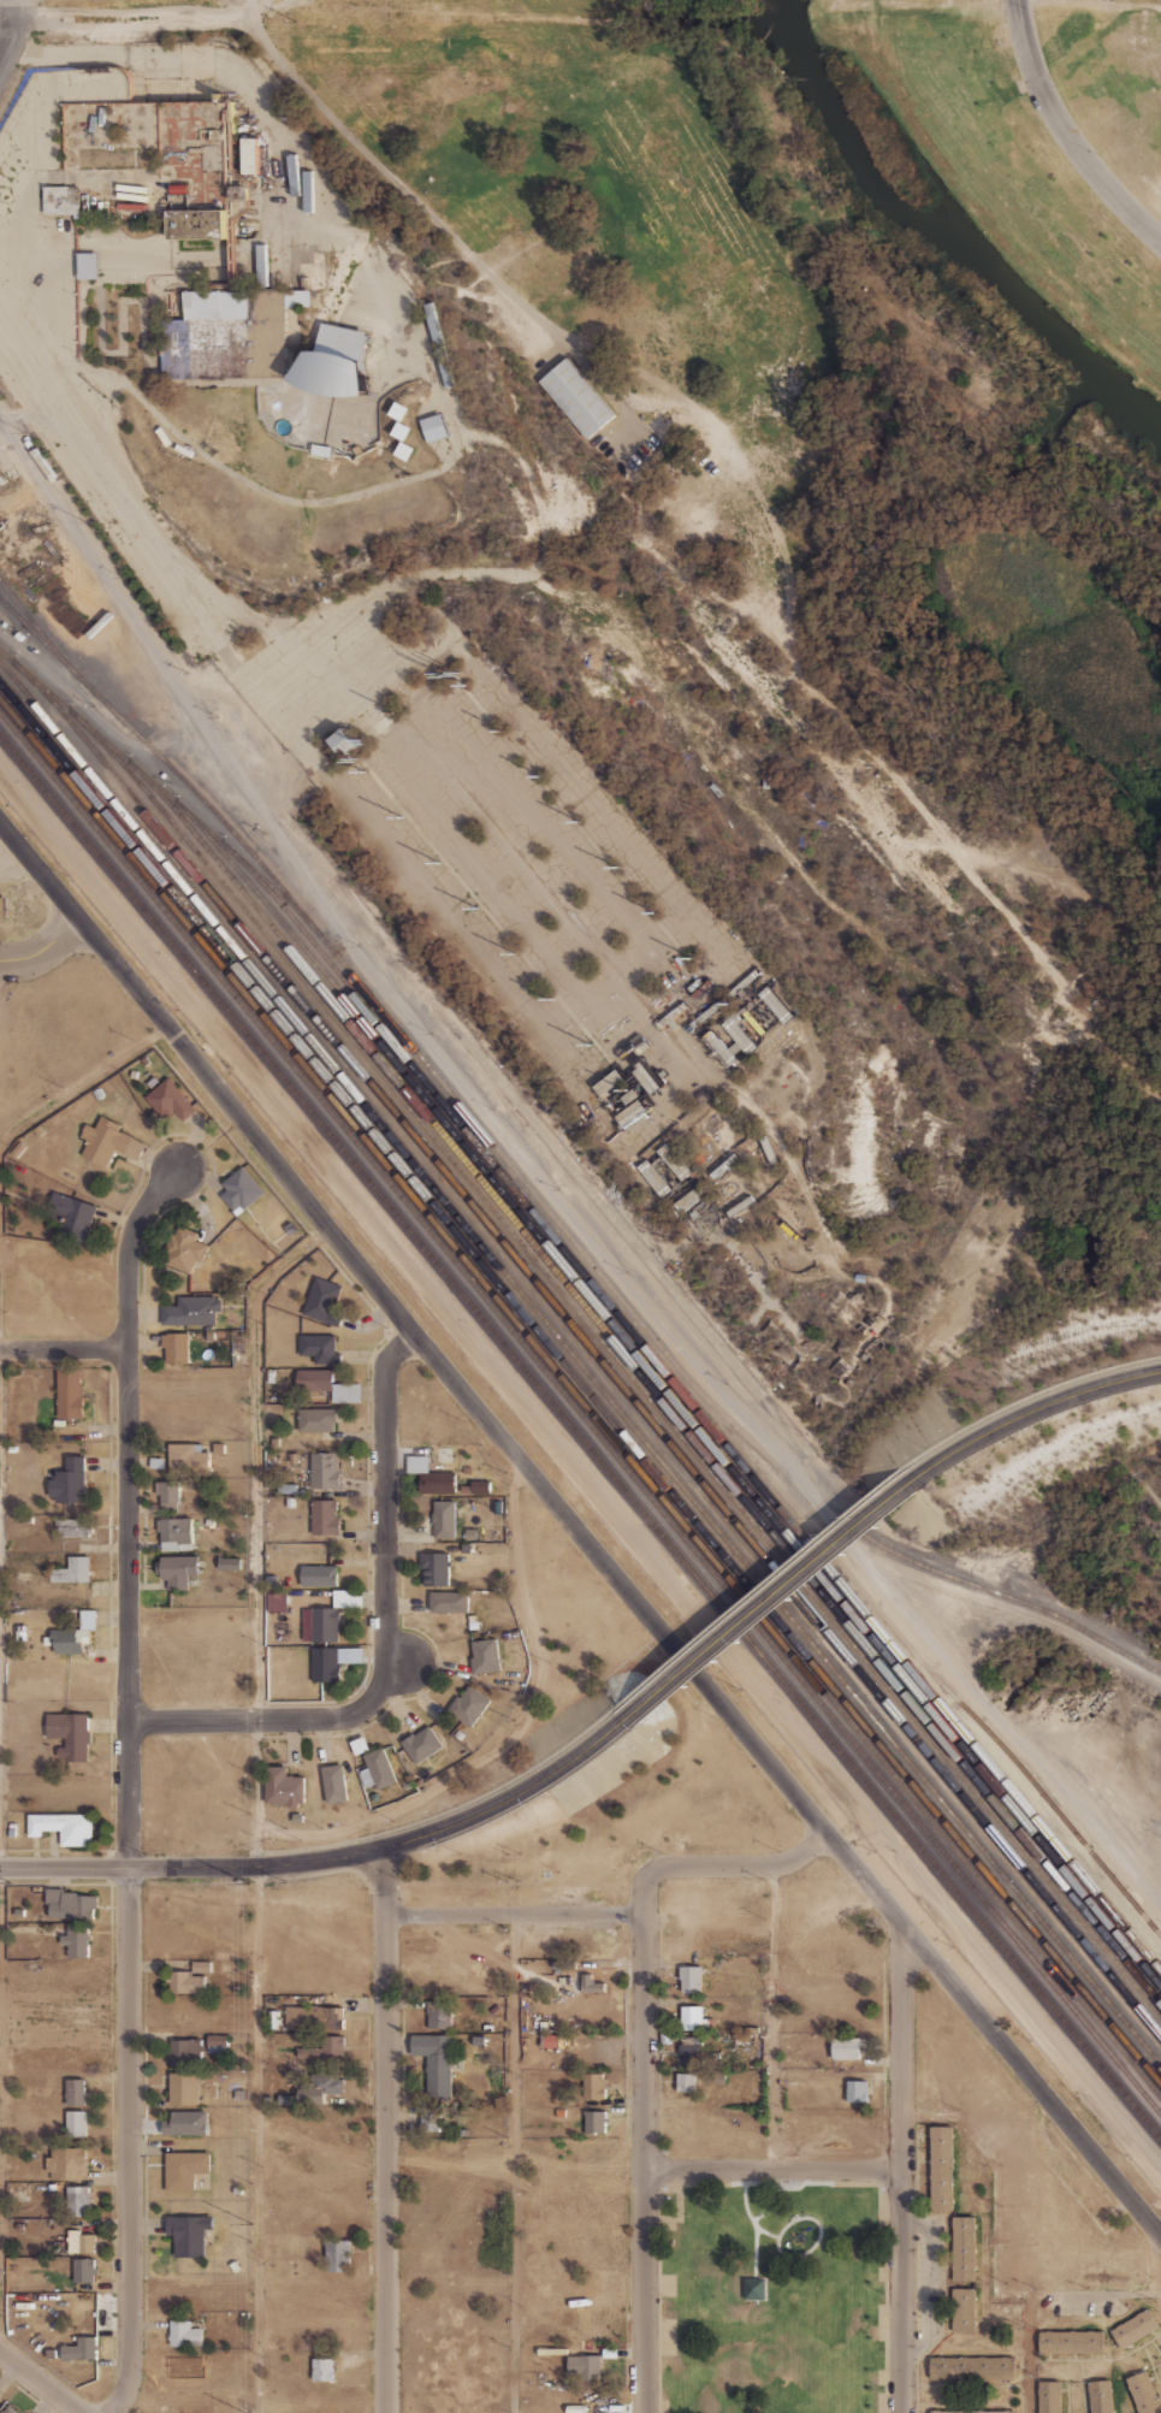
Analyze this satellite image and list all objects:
road: (241, 11)
road: (12, 31)
road: (1065, 135)
road: (355, 147)
building: (249, 156)
building: (183, 188)
building: (238, 193)
building: (63, 200)
building: (201, 224)
river: (944, 235)
building: (245, 254)
building: (260, 265)
building: (88, 266)
building: (332, 280)
building: (296, 298)
building: (315, 323)
building: (434, 323)
building: (226, 336)
road: (17, 363)
building: (333, 365)
building: (445, 366)
park: (863, 367)
building: (576, 398)
building: (397, 412)
building: (434, 427)
building: (399, 431)
building: (319, 450)
building: (355, 450)
building: (403, 451)
building: (310, 492)
road: (538, 558)
building: (324, 595)
railway: (36, 625)
road: (227, 685)
road: (91, 712)
building: (345, 741)
railway: (161, 791)
building: (2, 907)
road: (43, 948)
building: (741, 1039)
building: (144, 1061)
building: (135, 1075)
road: (79, 1080)
building: (97, 1093)
road: (509, 1094)
building: (170, 1100)
building: (38, 1130)
building: (109, 1142)
building: (18, 1149)
building: (674, 1163)
building: (653, 1178)
road: (552, 1189)
building: (241, 1191)
building: (689, 1200)
building: (740, 1206)
building: (72, 1214)
building: (290, 1228)
road: (824, 1232)
building: (183, 1248)
road: (804, 1254)
railway: (588, 1262)
building: (861, 1278)
building: (328, 1302)
building: (186, 1311)
building: (211, 1336)
road: (815, 1342)
building: (176, 1347)
building: (319, 1348)
road: (61, 1349)
railway: (594, 1354)
railway: (580, 1365)
railway: (626, 1376)
railway: (580, 1380)
building: (271, 1383)
building: (318, 1384)
railway: (651, 1390)
building: (348, 1392)
building: (70, 1394)
railway: (580, 1400)
railway: (679, 1406)
road: (1027, 1412)
railway: (580, 1415)
railway: (701, 1415)
building: (316, 1420)
railway: (580, 1438)
building: (274, 1442)
building: (202, 1447)
building: (219, 1448)
road: (256, 1456)
building: (294, 1457)
building: (180, 1459)
building: (203, 1459)
building: (156, 1462)
building: (325, 1469)
building: (428, 1475)
building: (70, 1481)
building: (480, 1486)
building: (202, 1489)
building: (288, 1489)
building: (466, 1489)
building: (167, 1492)
building: (290, 1502)
road: (123, 1508)
building: (324, 1516)
building: (444, 1520)
building: (209, 1522)
road: (384, 1525)
building: (77, 1528)
building: (176, 1534)
road: (574, 1536)
railway: (879, 1543)
building: (276, 1548)
building: (231, 1563)
building: (434, 1568)
building: (73, 1569)
building: (179, 1571)
building: (24, 1575)
building: (319, 1575)
building: (273, 1580)
building: (348, 1598)
road: (770, 1601)
building: (277, 1602)
building: (449, 1602)
building: (89, 1619)
building: (279, 1620)
building: (320, 1624)
building: (473, 1625)
building: (22, 1633)
building: (504, 1637)
building: (70, 1639)
building: (283, 1643)
building: (485, 1656)
building: (325, 1664)
road: (396, 1664)
building: (468, 1705)
road: (236, 1719)
building: (70, 1734)
building: (458, 1734)
road: (511, 1737)
building: (360, 1745)
building: (420, 1745)
building: (377, 1769)
building: (1109, 1769)
building: (1114, 1776)
building: (334, 1780)
building: (283, 1785)
road: (260, 1792)
building: (12, 1826)
building: (65, 1828)
building: (12, 1833)
road: (395, 1844)
railway: (989, 1845)
road: (23, 1851)
road: (63, 1867)
road: (722, 1867)
building: (53, 1895)
building: (75, 1906)
building: (19, 1912)
road: (513, 1914)
building: (77, 1942)
building: (201, 1967)
building: (691, 1979)
building: (565, 1980)
building: (591, 1981)
building: (184, 1982)
building: (493, 2007)
building: (439, 2015)
building: (330, 2017)
road: (770, 2017)
building: (297, 2018)
building: (694, 2019)
building: (487, 2028)
building: (665, 2039)
building: (217, 2040)
building: (551, 2040)
building: (479, 2041)
road: (644, 2041)
building: (334, 2045)
building: (847, 2048)
road: (898, 2051)
building: (308, 2052)
building: (185, 2053)
building: (691, 2053)
building: (437, 2065)
building: (685, 2082)
building: (328, 2083)
building: (594, 2086)
building: (76, 2089)
building: (184, 2089)
building: (857, 2090)
building: (561, 2112)
building: (593, 2122)
building: (437, 2123)
building: (78, 2129)
road: (385, 2130)
road: (255, 2139)
road: (125, 2142)
road: (511, 2163)
building: (67, 2164)
road: (770, 2169)
building: (942, 2169)
building: (188, 2172)
road: (770, 2182)
building: (78, 2201)
road: (795, 2216)
building: (185, 2235)
building: (79, 2242)
building: (964, 2248)
road: (754, 2251)
road: (991, 2251)
building: (338, 2255)
building: (85, 2271)
building: (754, 2289)
road: (898, 2290)
road: (644, 2291)
park: (770, 2296)
building: (964, 2311)
building: (1135, 2329)
building: (185, 2334)
building: (1071, 2342)
building: (79, 2349)
building: (552, 2352)
building: (51, 2353)
building: (610, 2353)
building: (584, 2367)
building: (972, 2367)
building: (322, 2370)
road: (38, 2381)
building: (1143, 2393)
building: (1049, 2396)
building: (1100, 2396)
building: (10, 2409)
building: (973, 2411)

